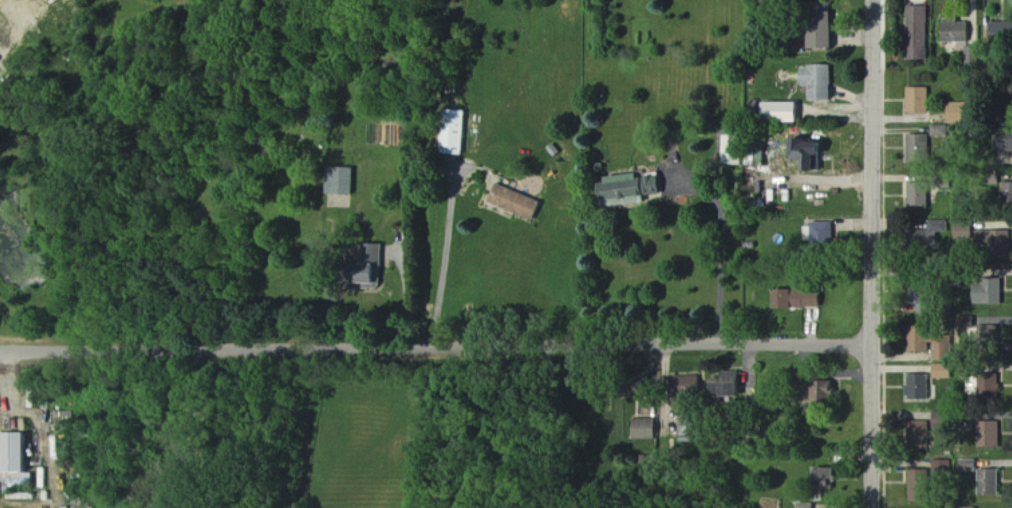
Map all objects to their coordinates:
building: (954, 28)
road: (6, 31)
building: (917, 31)
building: (826, 35)
building: (1001, 35)
building: (971, 53)
building: (822, 83)
building: (918, 98)
building: (956, 111)
building: (785, 113)
building: (938, 129)
building: (455, 133)
building: (1003, 140)
building: (917, 146)
building: (735, 152)
building: (815, 155)
building: (988, 177)
building: (941, 179)
building: (345, 182)
building: (633, 190)
building: (917, 194)
building: (1006, 194)
building: (517, 203)
building: (968, 231)
building: (926, 234)
building: (826, 236)
building: (994, 240)
road: (722, 246)
road: (877, 254)
road: (442, 262)
building: (966, 271)
building: (987, 291)
building: (920, 293)
building: (801, 300)
building: (988, 338)
road: (438, 343)
building: (917, 347)
building: (967, 369)
building: (941, 372)
building: (689, 385)
building: (917, 385)
building: (987, 385)
building: (731, 386)
building: (827, 393)
building: (940, 396)
building: (967, 416)
building: (936, 419)
building: (945, 420)
building: (692, 429)
building: (649, 430)
building: (988, 432)
building: (917, 433)
building: (18, 453)
building: (966, 464)
building: (942, 467)
building: (973, 467)
building: (829, 478)
building: (988, 480)
building: (918, 484)
building: (807, 506)
building: (967, 507)

